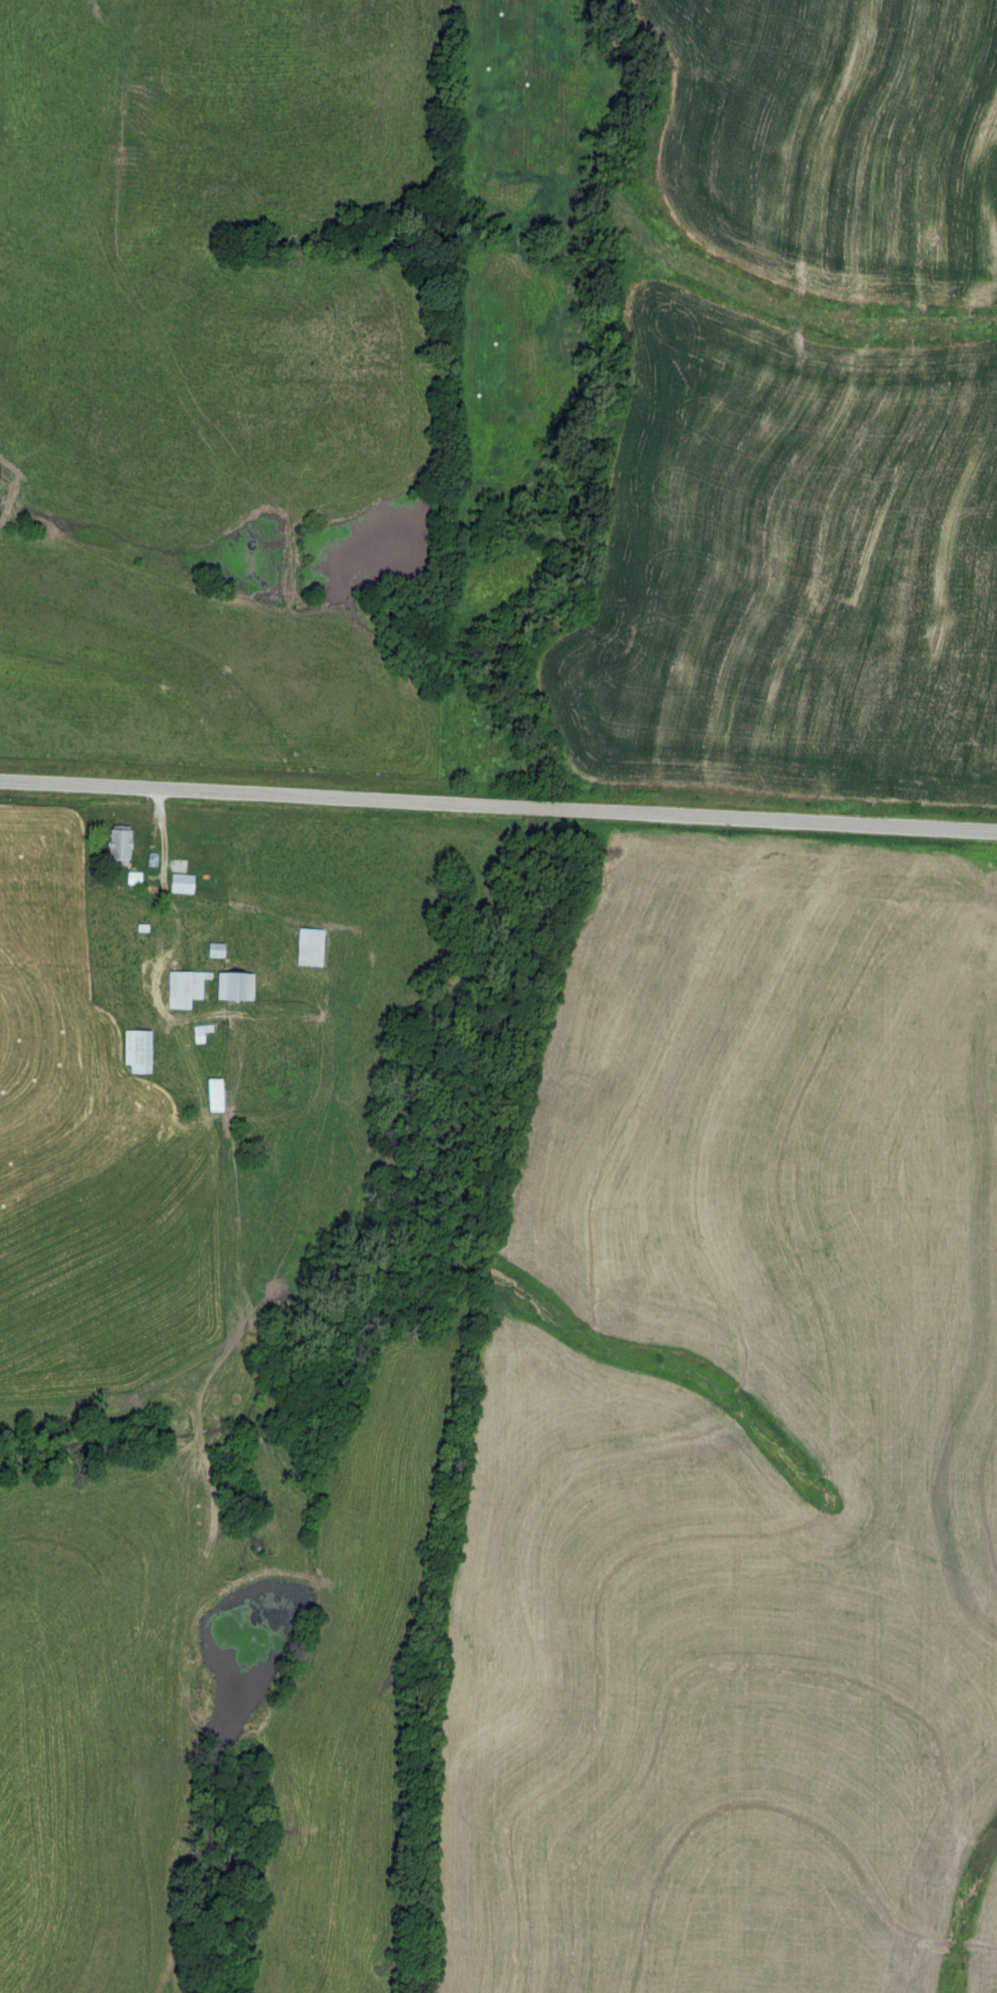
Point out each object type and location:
road: (498, 806)
building: (123, 843)
building: (184, 883)
building: (311, 946)
building: (217, 949)
building: (237, 985)
building: (185, 988)
building: (984, 1046)
building: (139, 1050)
building: (217, 1094)

